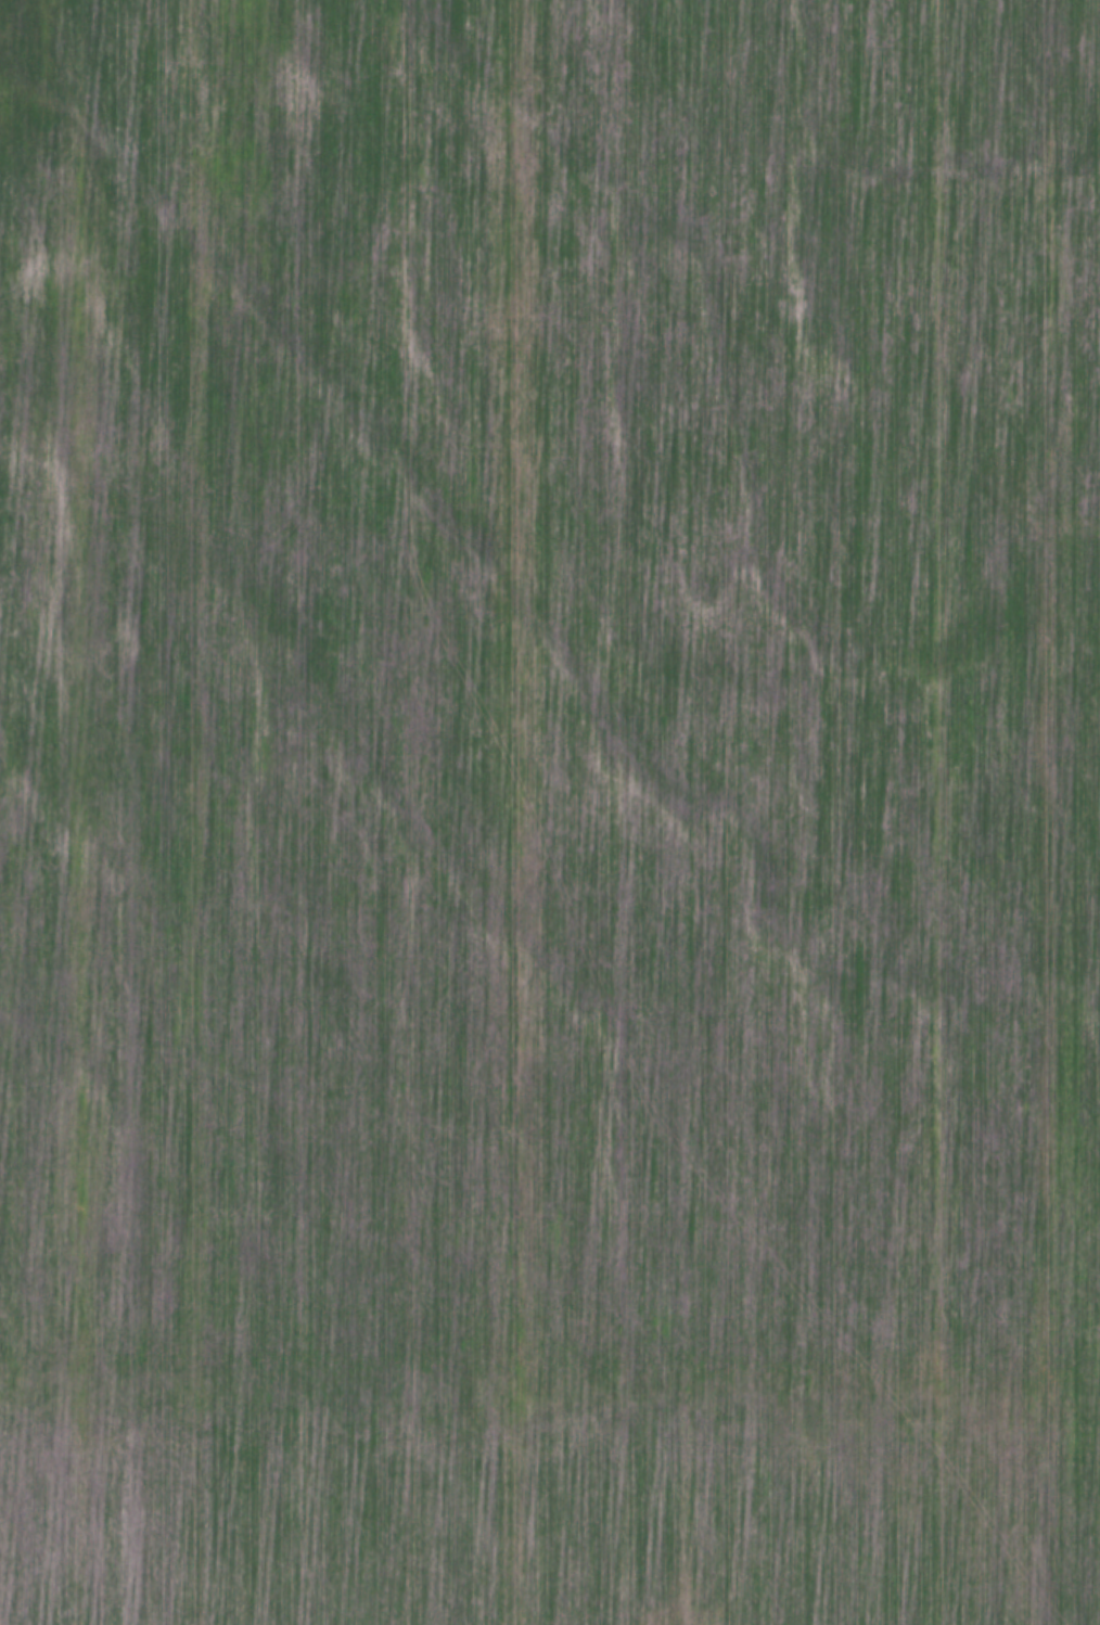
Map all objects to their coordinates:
crop: (533, 698)
crop: (1071, 1059)
crop: (516, 1519)

